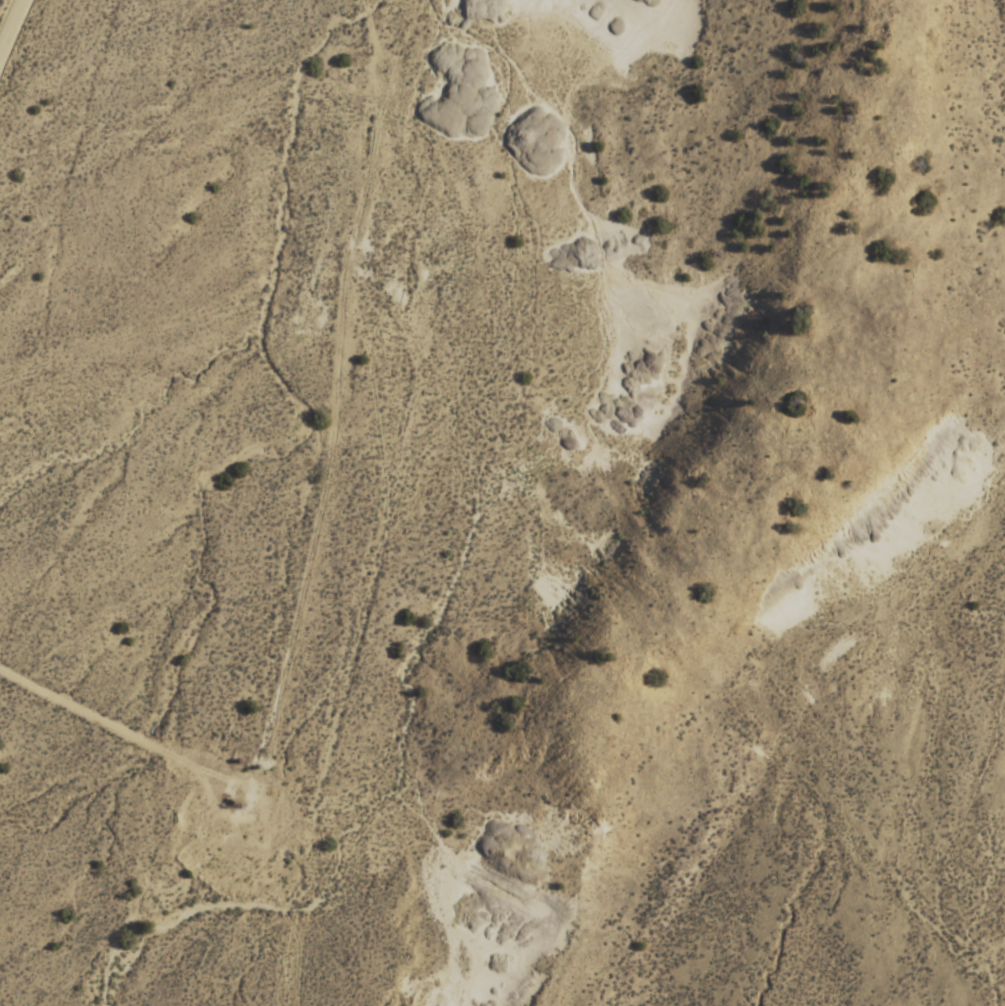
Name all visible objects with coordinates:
road: (10, 21)
road: (441, 168)
road: (402, 666)

